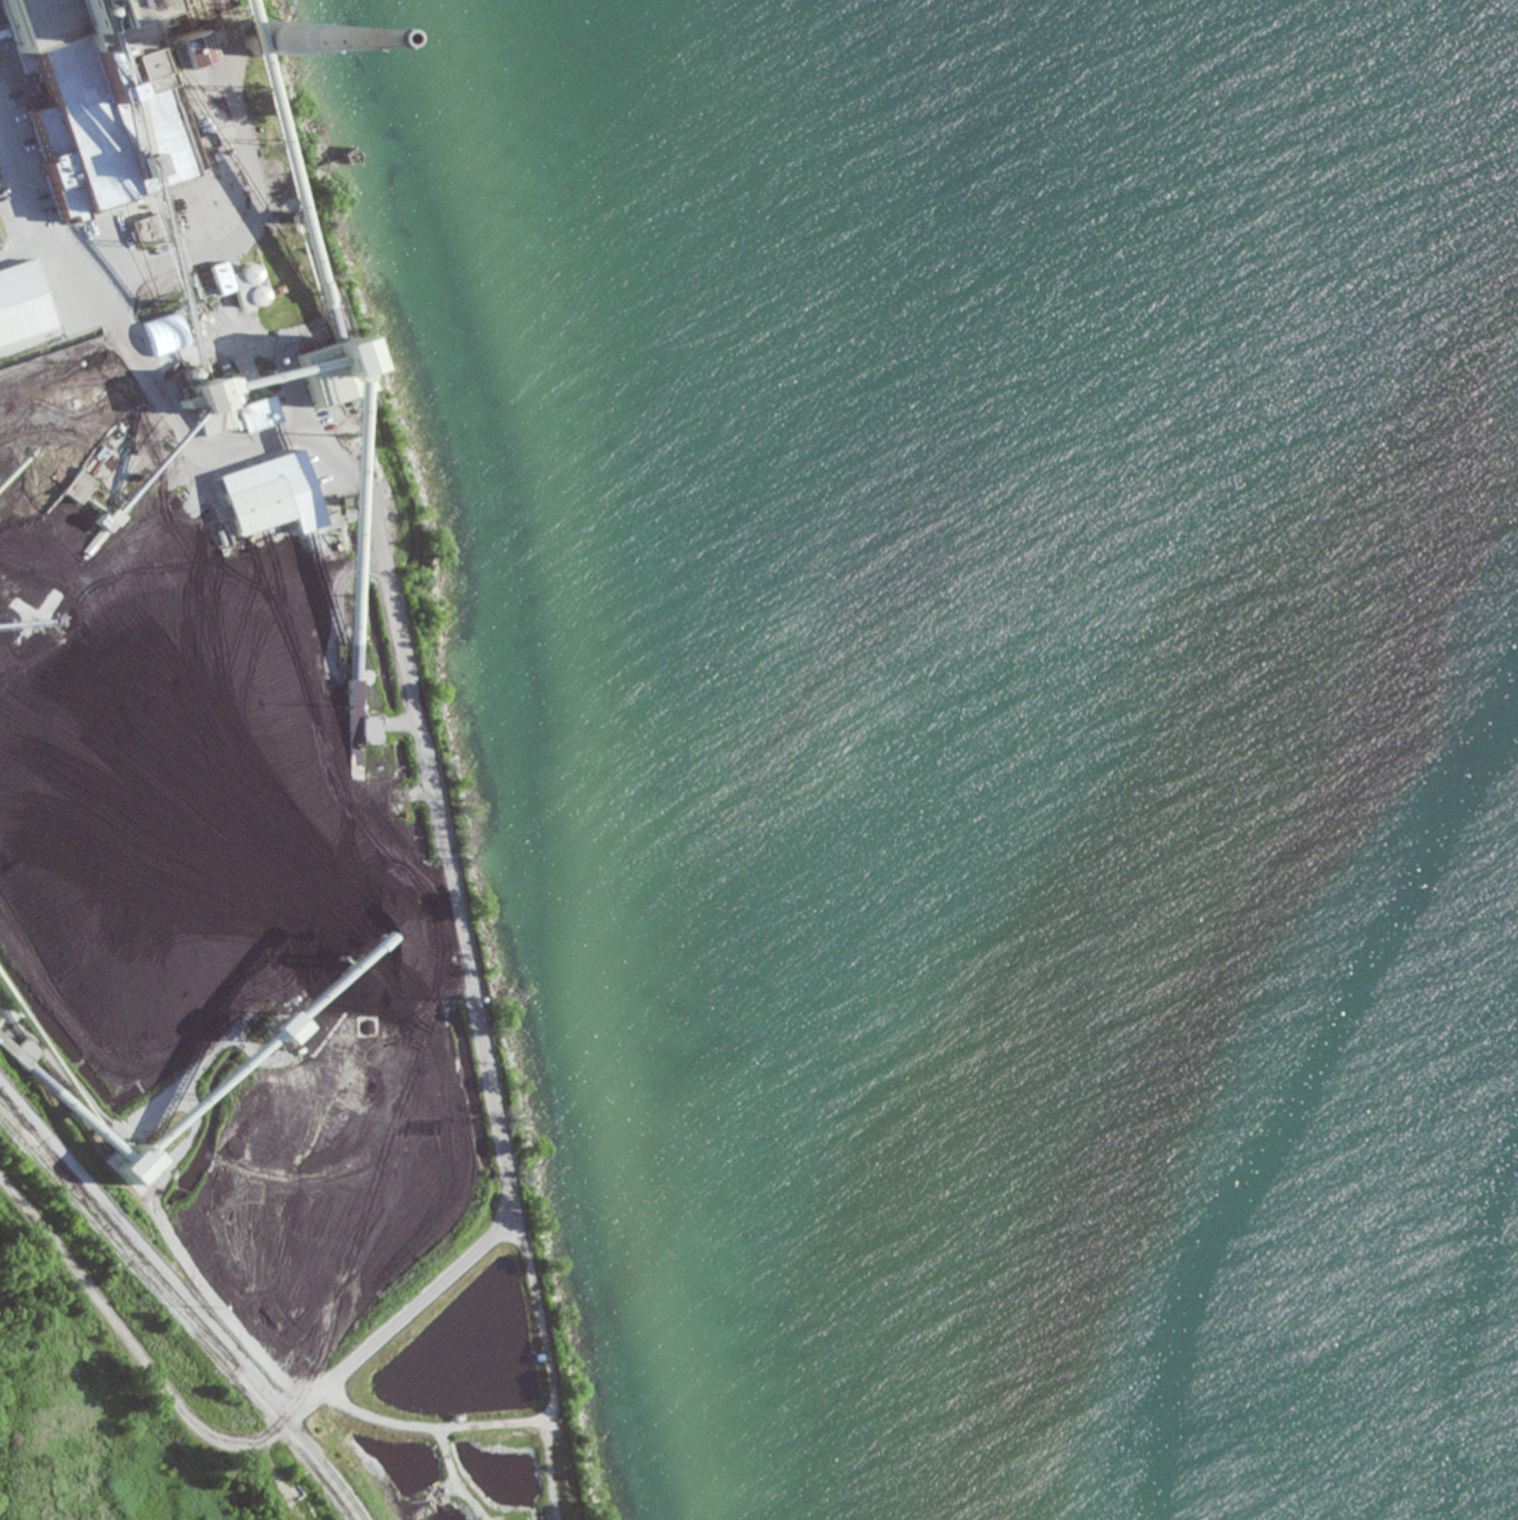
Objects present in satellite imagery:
chimney: (253, 45)
building: (101, 93)
building: (205, 141)
building: (284, 181)
road: (17, 247)
road: (44, 277)
building: (239, 284)
building: (17, 306)
road: (247, 343)
road: (193, 347)
road: (164, 355)
road: (289, 370)
road: (155, 396)
building: (260, 414)
building: (214, 421)
road: (176, 435)
road: (263, 446)
building: (271, 496)
building: (369, 730)
power plant: (249, 837)
railway: (15, 1117)
railway: (181, 1306)
railway: (181, 1316)
railway: (176, 1317)

